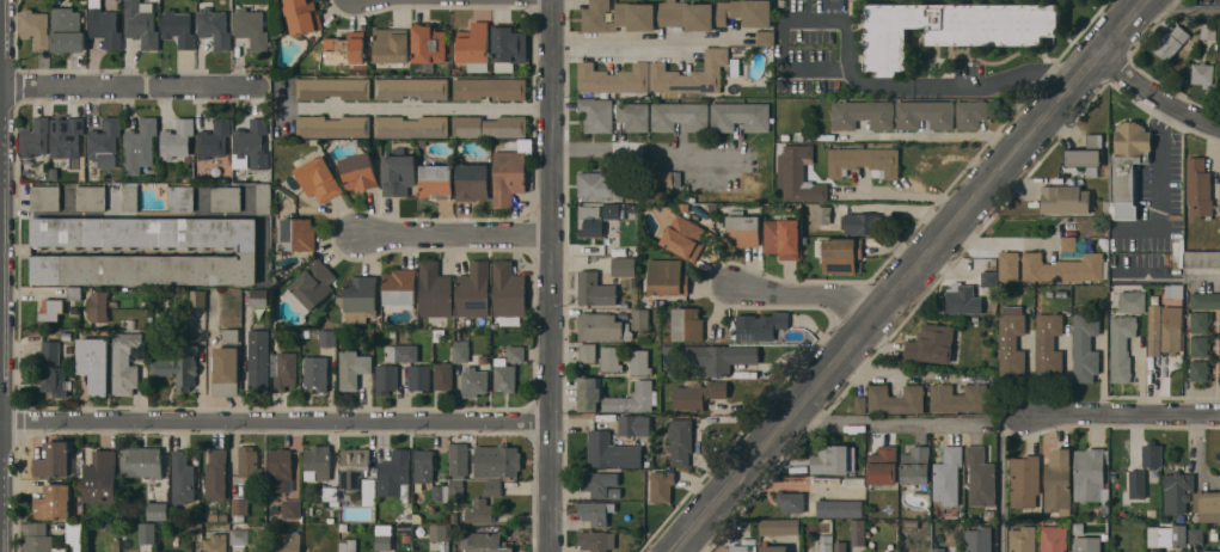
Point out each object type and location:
road: (1129, 5)
road: (1177, 11)
building: (674, 14)
building: (302, 16)
building: (141, 23)
building: (104, 25)
building: (36, 26)
building: (178, 27)
building: (214, 27)
building: (251, 27)
building: (952, 27)
building: (67, 30)
building: (1209, 31)
building: (765, 37)
building: (1171, 41)
building: (428, 43)
building: (473, 43)
building: (391, 44)
road: (627, 44)
building: (508, 45)
building: (345, 48)
building: (738, 66)
building: (1202, 73)
building: (691, 74)
building: (613, 78)
road: (906, 85)
road: (129, 86)
building: (333, 87)
building: (411, 87)
building: (490, 87)
road: (1155, 94)
road: (417, 106)
building: (971, 112)
building: (613, 114)
building: (863, 114)
building: (925, 114)
building: (680, 116)
building: (740, 116)
building: (333, 125)
building: (411, 125)
building: (489, 125)
road: (938, 133)
building: (66, 136)
building: (35, 139)
building: (177, 139)
building: (214, 139)
building: (105, 142)
building: (252, 142)
road: (1164, 143)
building: (140, 146)
road: (651, 153)
building: (1087, 154)
building: (1128, 159)
building: (864, 160)
building: (358, 171)
building: (399, 173)
building: (799, 174)
building: (508, 176)
building: (436, 177)
building: (668, 177)
building: (319, 178)
building: (472, 180)
building: (600, 185)
building: (1198, 188)
building: (640, 190)
road: (915, 191)
building: (130, 195)
building: (45, 197)
building: (91, 197)
building: (180, 197)
building: (226, 197)
building: (263, 197)
building: (1065, 198)
building: (613, 210)
road: (124, 213)
building: (822, 214)
building: (590, 221)
building: (860, 222)
building: (743, 228)
road: (459, 232)
building: (298, 233)
building: (683, 237)
building: (783, 238)
road: (997, 240)
building: (1068, 243)
building: (247, 250)
building: (841, 253)
building: (1202, 258)
building: (1009, 264)
building: (624, 266)
building: (1062, 266)
road: (548, 275)
building: (668, 277)
road: (906, 277)
building: (989, 280)
building: (314, 283)
road: (1207, 283)
building: (400, 289)
building: (435, 289)
building: (474, 289)
building: (595, 289)
road: (29, 292)
building: (1175, 292)
building: (75, 293)
building: (361, 293)
building: (508, 293)
road: (803, 293)
building: (259, 296)
building: (198, 299)
building: (961, 299)
building: (1132, 300)
building: (1204, 300)
building: (98, 305)
building: (50, 309)
building: (640, 318)
building: (75, 320)
building: (1200, 321)
building: (686, 323)
building: (131, 324)
building: (760, 325)
building: (602, 326)
building: (1171, 330)
building: (231, 335)
building: (67, 337)
building: (329, 337)
building: (1154, 339)
building: (931, 343)
building: (1011, 344)
building: (1049, 345)
building: (1121, 345)
building: (1200, 345)
building: (1085, 346)
building: (460, 350)
building: (516, 351)
building: (403, 352)
building: (588, 352)
building: (719, 356)
building: (259, 358)
building: (611, 358)
building: (125, 361)
building: (639, 361)
building: (94, 363)
building: (178, 366)
building: (352, 368)
building: (53, 369)
building: (286, 369)
building: (1198, 369)
building: (226, 370)
road: (875, 370)
building: (315, 372)
building: (443, 375)
building: (504, 375)
building: (419, 376)
building: (386, 378)
building: (473, 381)
road: (1140, 384)
building: (589, 393)
building: (698, 394)
building: (958, 397)
building: (633, 398)
building: (895, 398)
building: (859, 404)
road: (1127, 412)
road: (274, 421)
building: (634, 423)
road: (957, 423)
building: (681, 440)
building: (611, 450)
building: (1152, 454)
building: (459, 459)
building: (833, 459)
building: (54, 460)
building: (497, 460)
building: (141, 461)
building: (317, 462)
building: (250, 465)
building: (424, 465)
building: (883, 465)
building: (915, 465)
building: (354, 466)
building: (280, 467)
building: (216, 473)
building: (1089, 473)
building: (396, 474)
building: (102, 476)
building: (948, 476)
building: (981, 476)
building: (183, 477)
building: (1057, 479)
building: (1024, 480)
building: (599, 482)
building: (1138, 483)
building: (662, 485)
building: (493, 486)
building: (456, 489)
building: (369, 490)
building: (1177, 491)
building: (441, 492)
building: (330, 493)
building: (791, 501)
building: (54, 502)
building: (1208, 505)
building: (239, 507)
building: (840, 508)
building: (158, 509)
building: (292, 509)
building: (480, 510)
building: (595, 511)
building: (213, 517)
building: (223, 517)
building: (779, 527)
building: (197, 529)
building: (439, 532)
building: (858, 532)
building: (147, 533)
building: (74, 534)
building: (239, 535)
building: (1167, 535)
building: (1196, 535)
building: (384, 536)
building: (39, 539)
building: (979, 539)
building: (1023, 539)
building: (1054, 539)
building: (596, 540)
building: (215, 542)
building: (287, 542)
building: (488, 542)
building: (826, 542)
building: (1087, 544)
building: (348, 545)
building: (840, 546)
building: (743, 548)
building: (773, 548)
building: (939, 550)
building: (1208, 550)
building: (170, 551)
building: (417, 551)
building: (431, 551)
building: (1154, 551)

